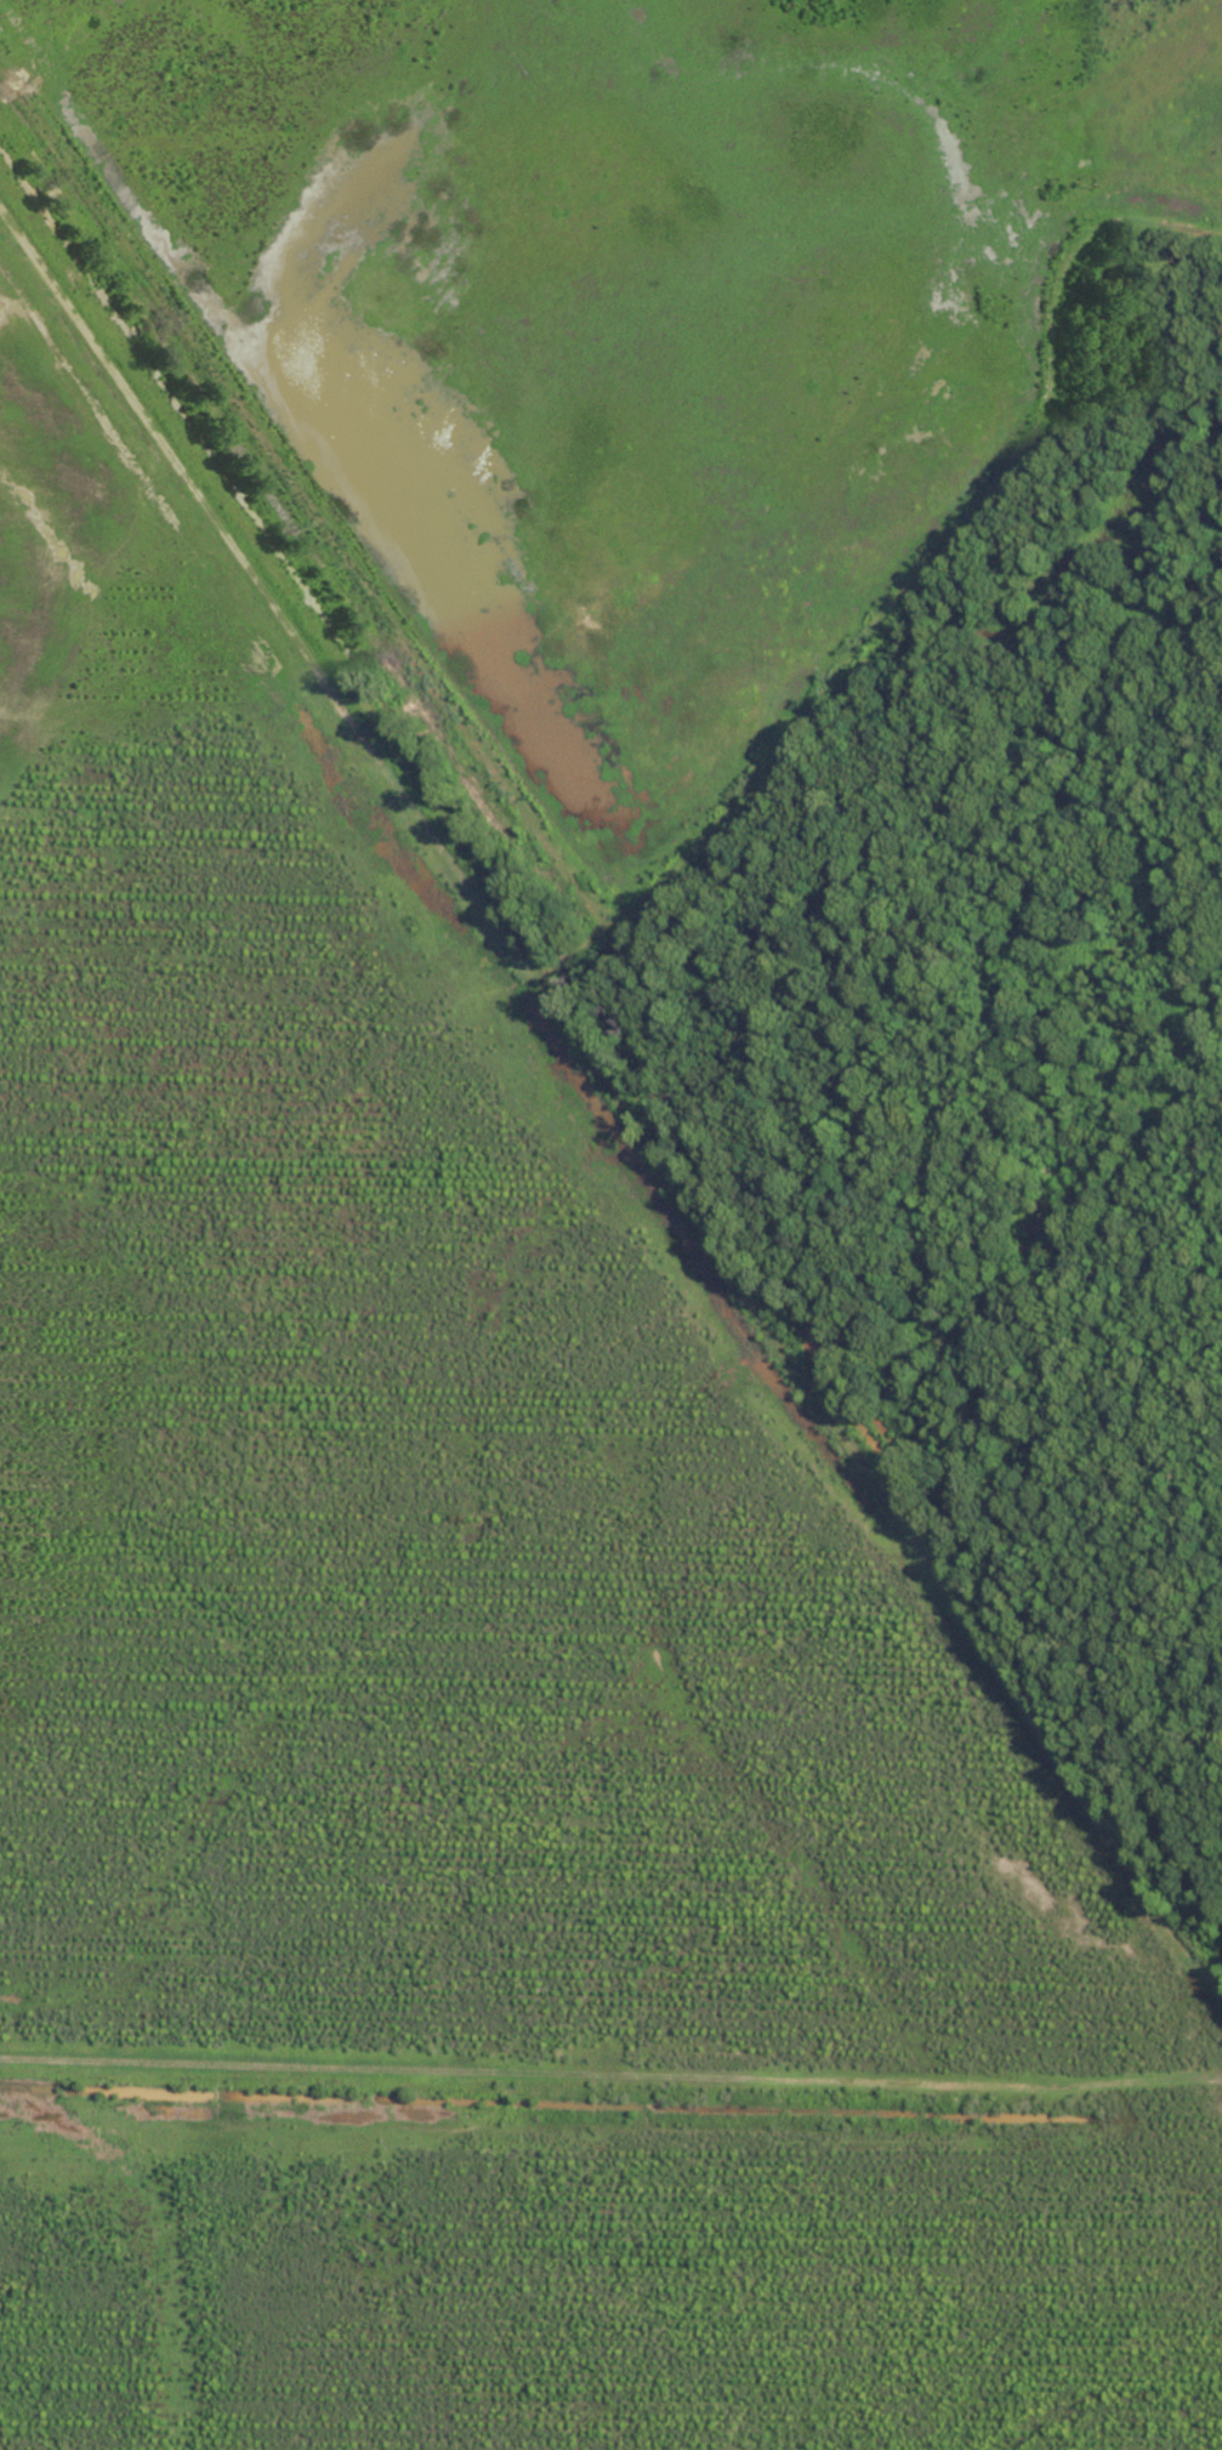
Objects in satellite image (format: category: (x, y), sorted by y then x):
road: (1087, 1792)

